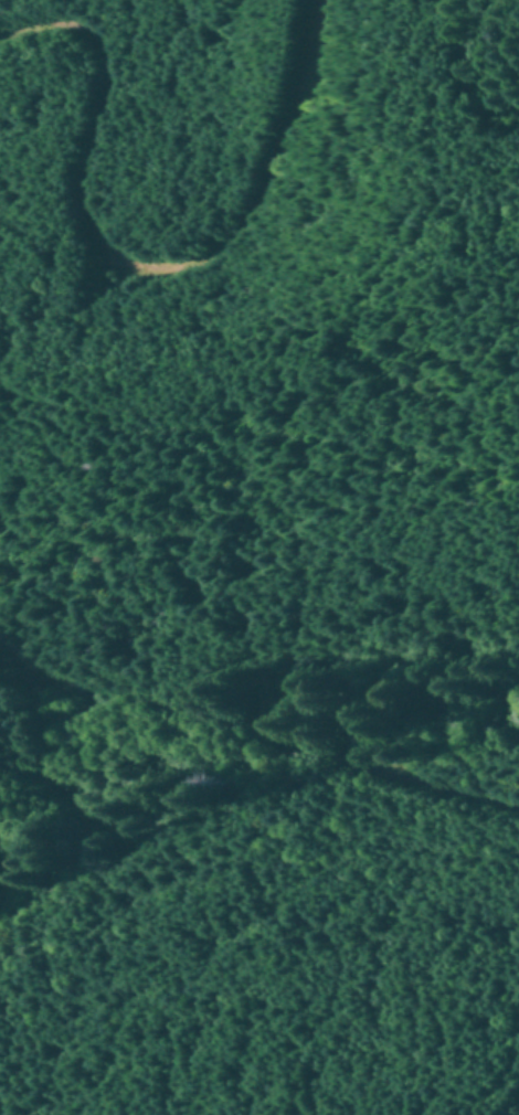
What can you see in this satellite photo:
road: (251, 894)

